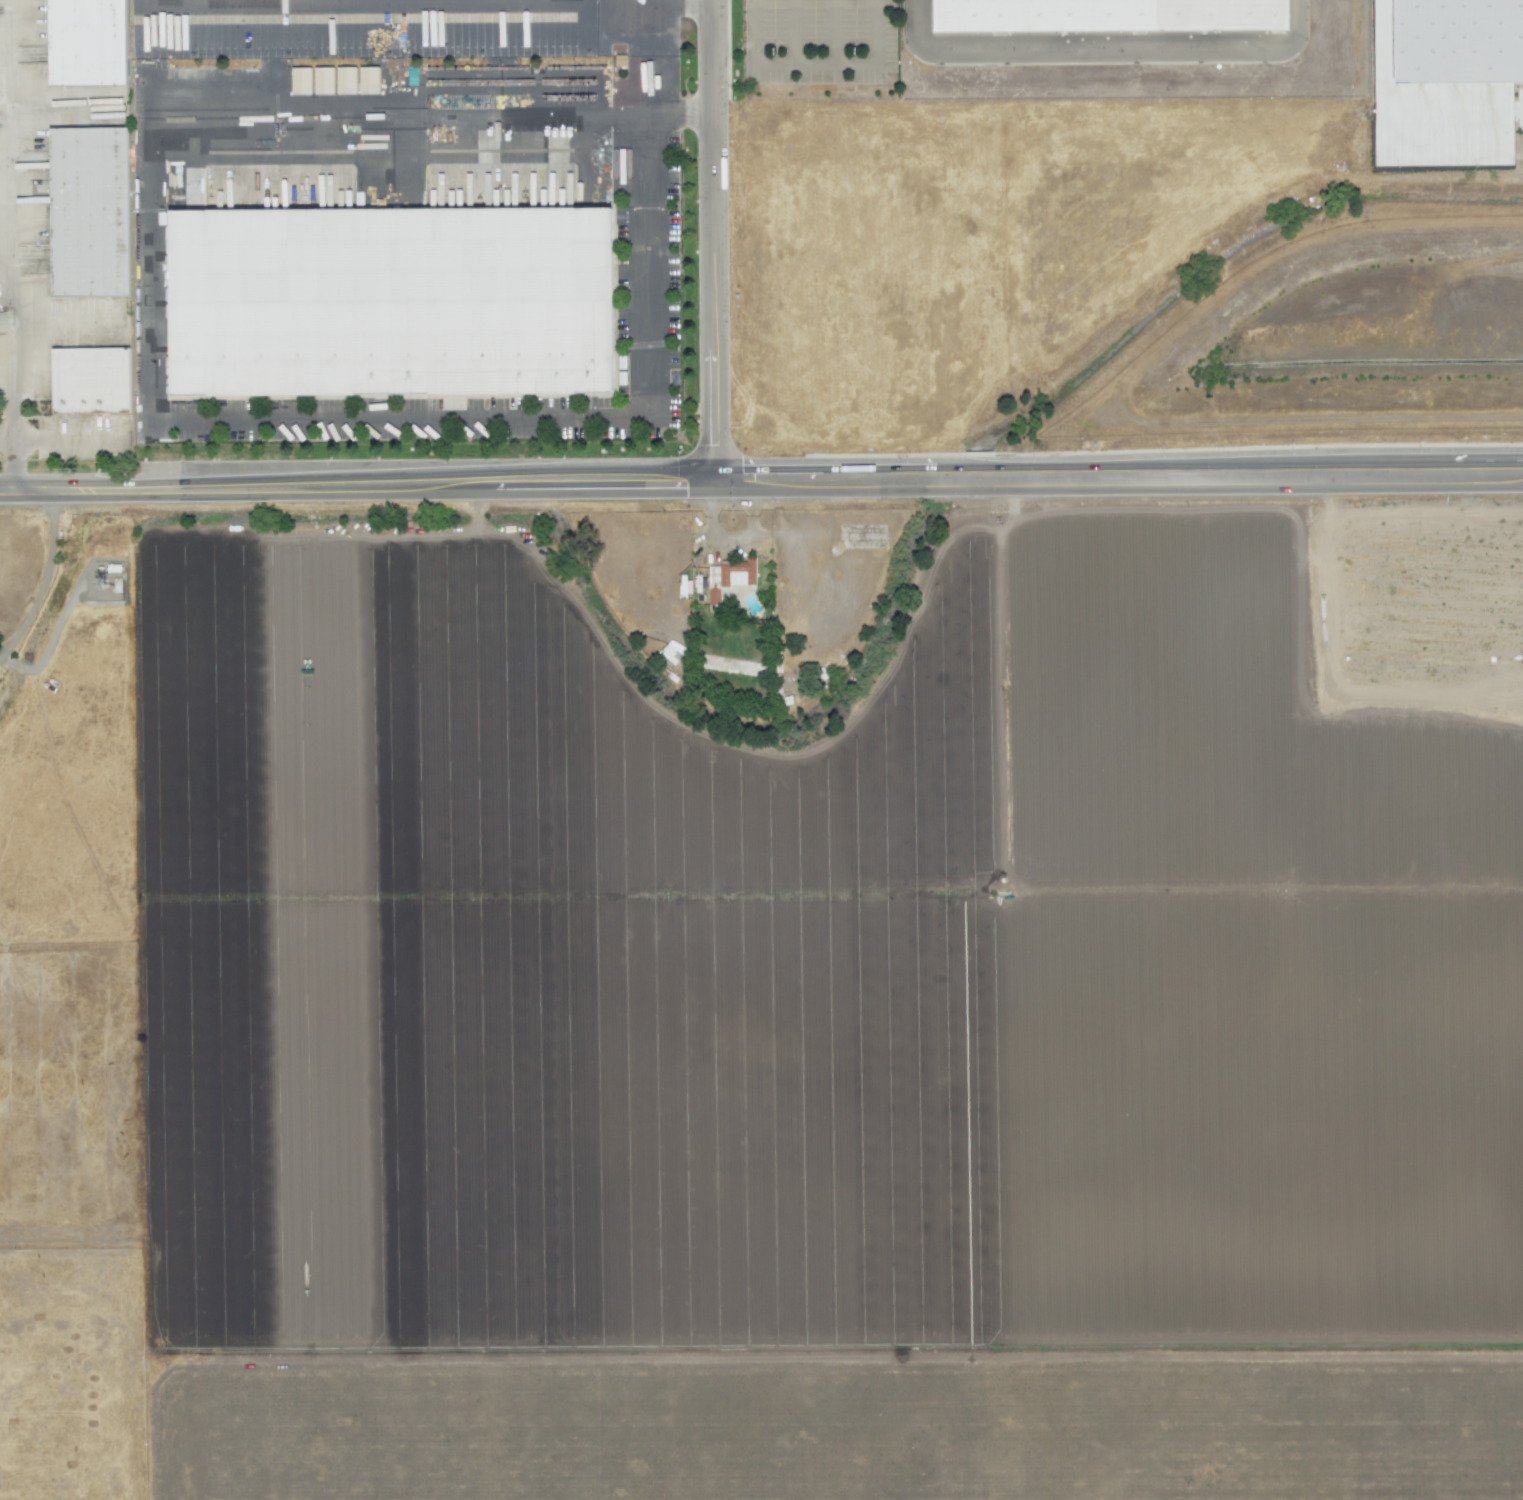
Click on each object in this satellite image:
road: (677, 0)
building: (1108, 16)
road: (914, 22)
road: (750, 31)
road: (833, 31)
road: (2, 40)
road: (1124, 41)
building: (87, 44)
road: (791, 51)
road: (865, 62)
building: (1462, 74)
building: (346, 80)
building: (368, 80)
building: (300, 81)
building: (323, 81)
road: (641, 94)
road: (233, 101)
building: (88, 216)
road: (7, 219)
road: (4, 243)
road: (714, 245)
building: (384, 297)
building: (90, 385)
road: (542, 413)
road: (11, 460)
road: (1233, 484)
road: (829, 490)
road: (383, 492)
road: (25, 493)
building: (732, 577)
road: (43, 579)
building: (671, 651)
railway: (634, 750)

